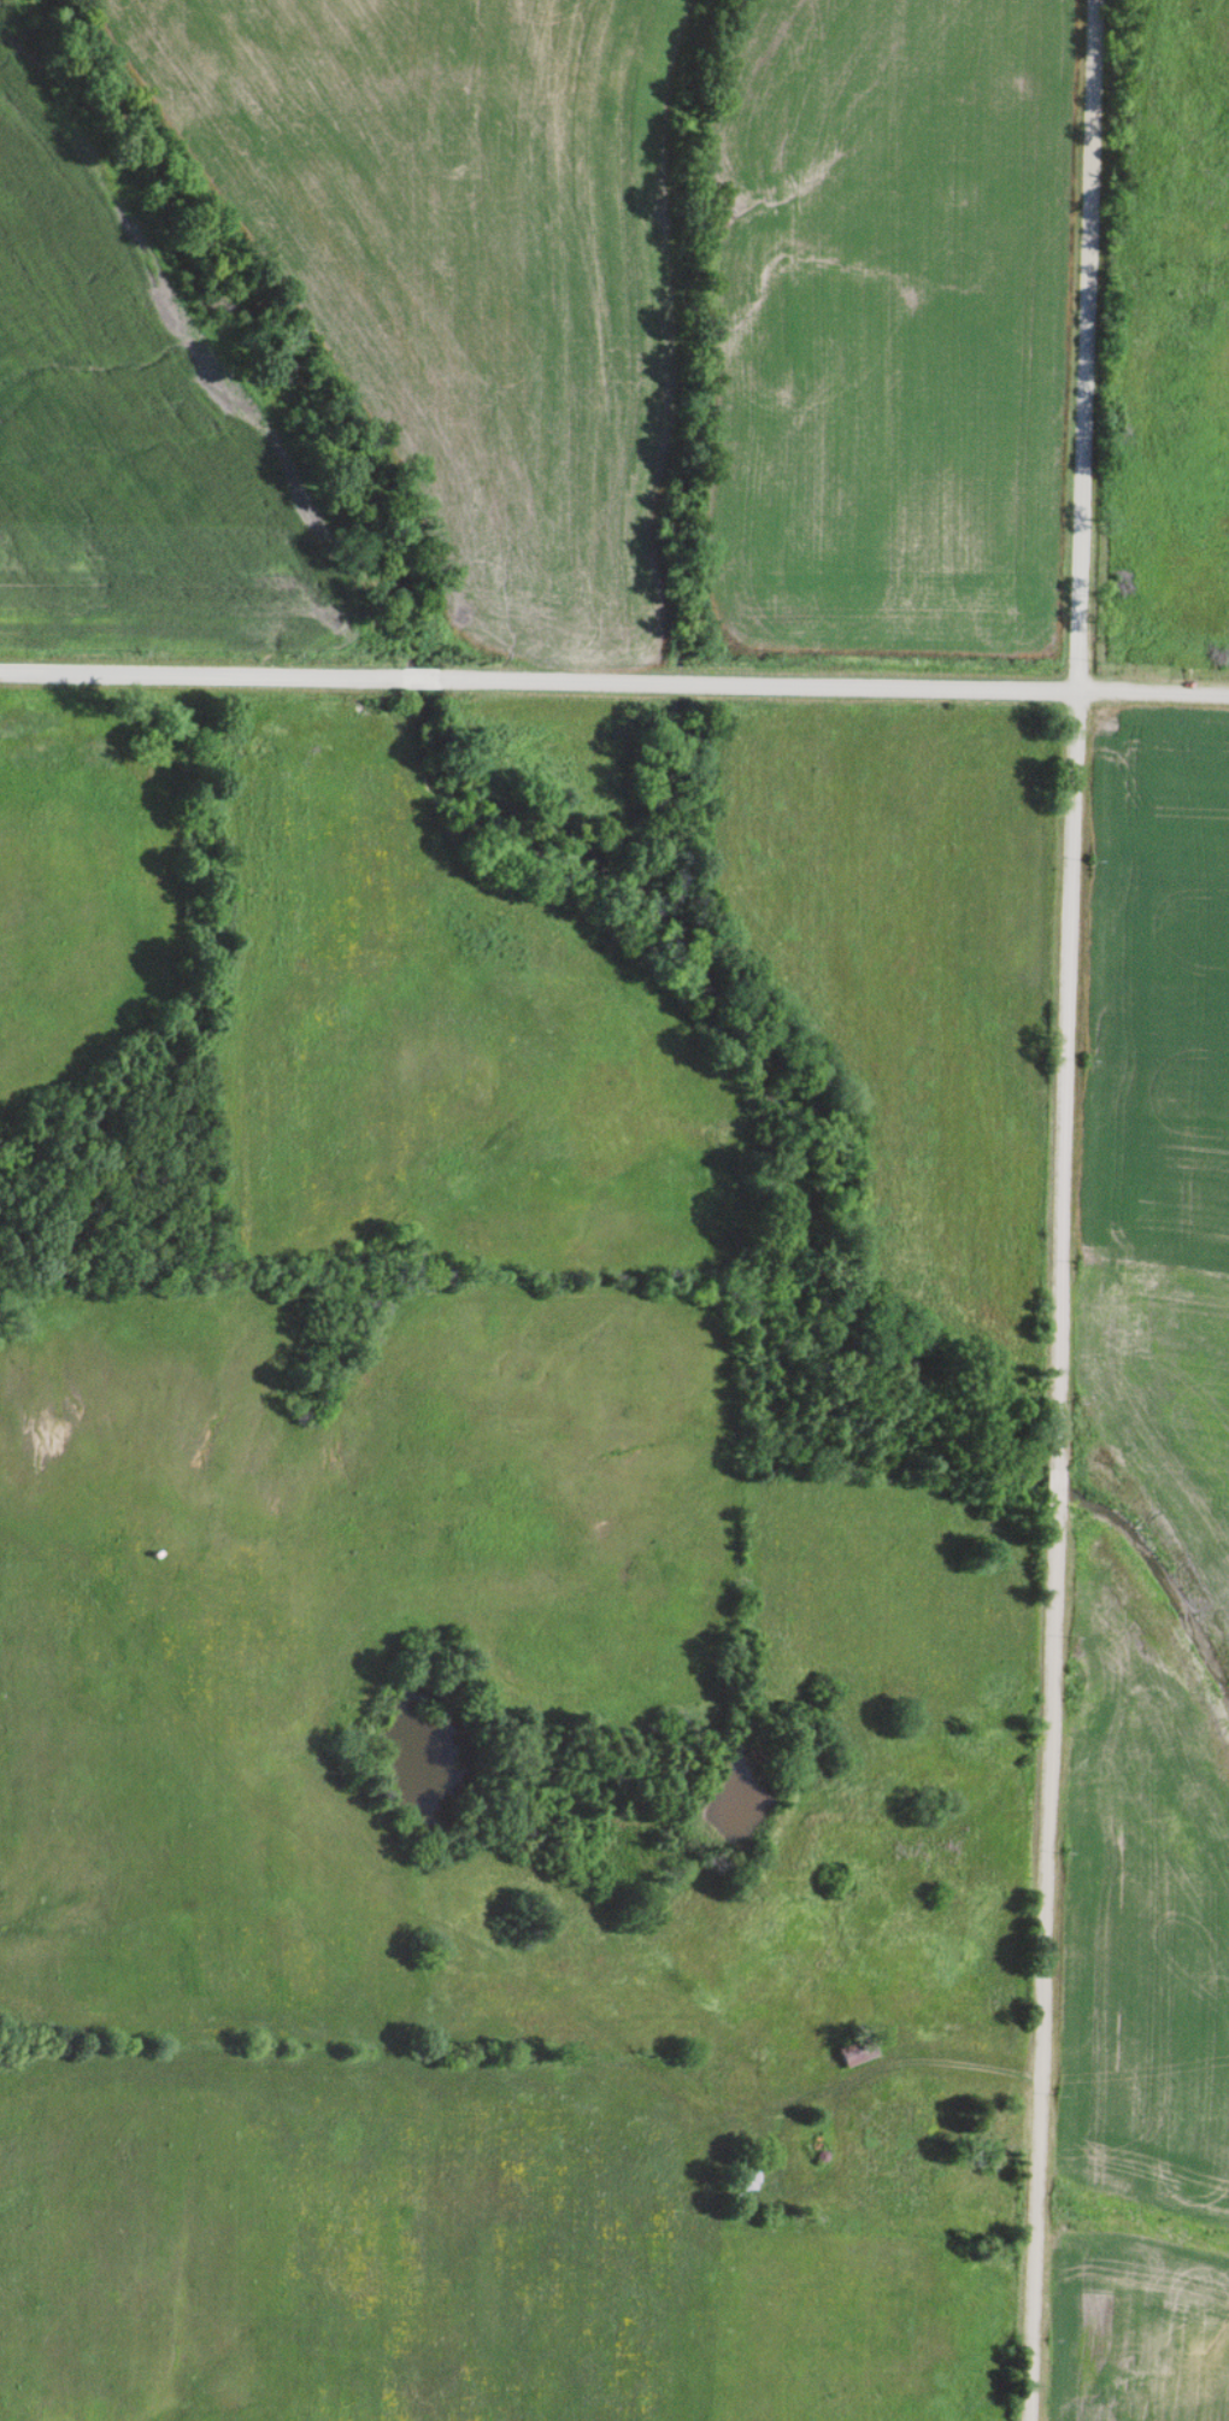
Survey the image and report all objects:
road: (613, 683)
road: (1063, 1210)

